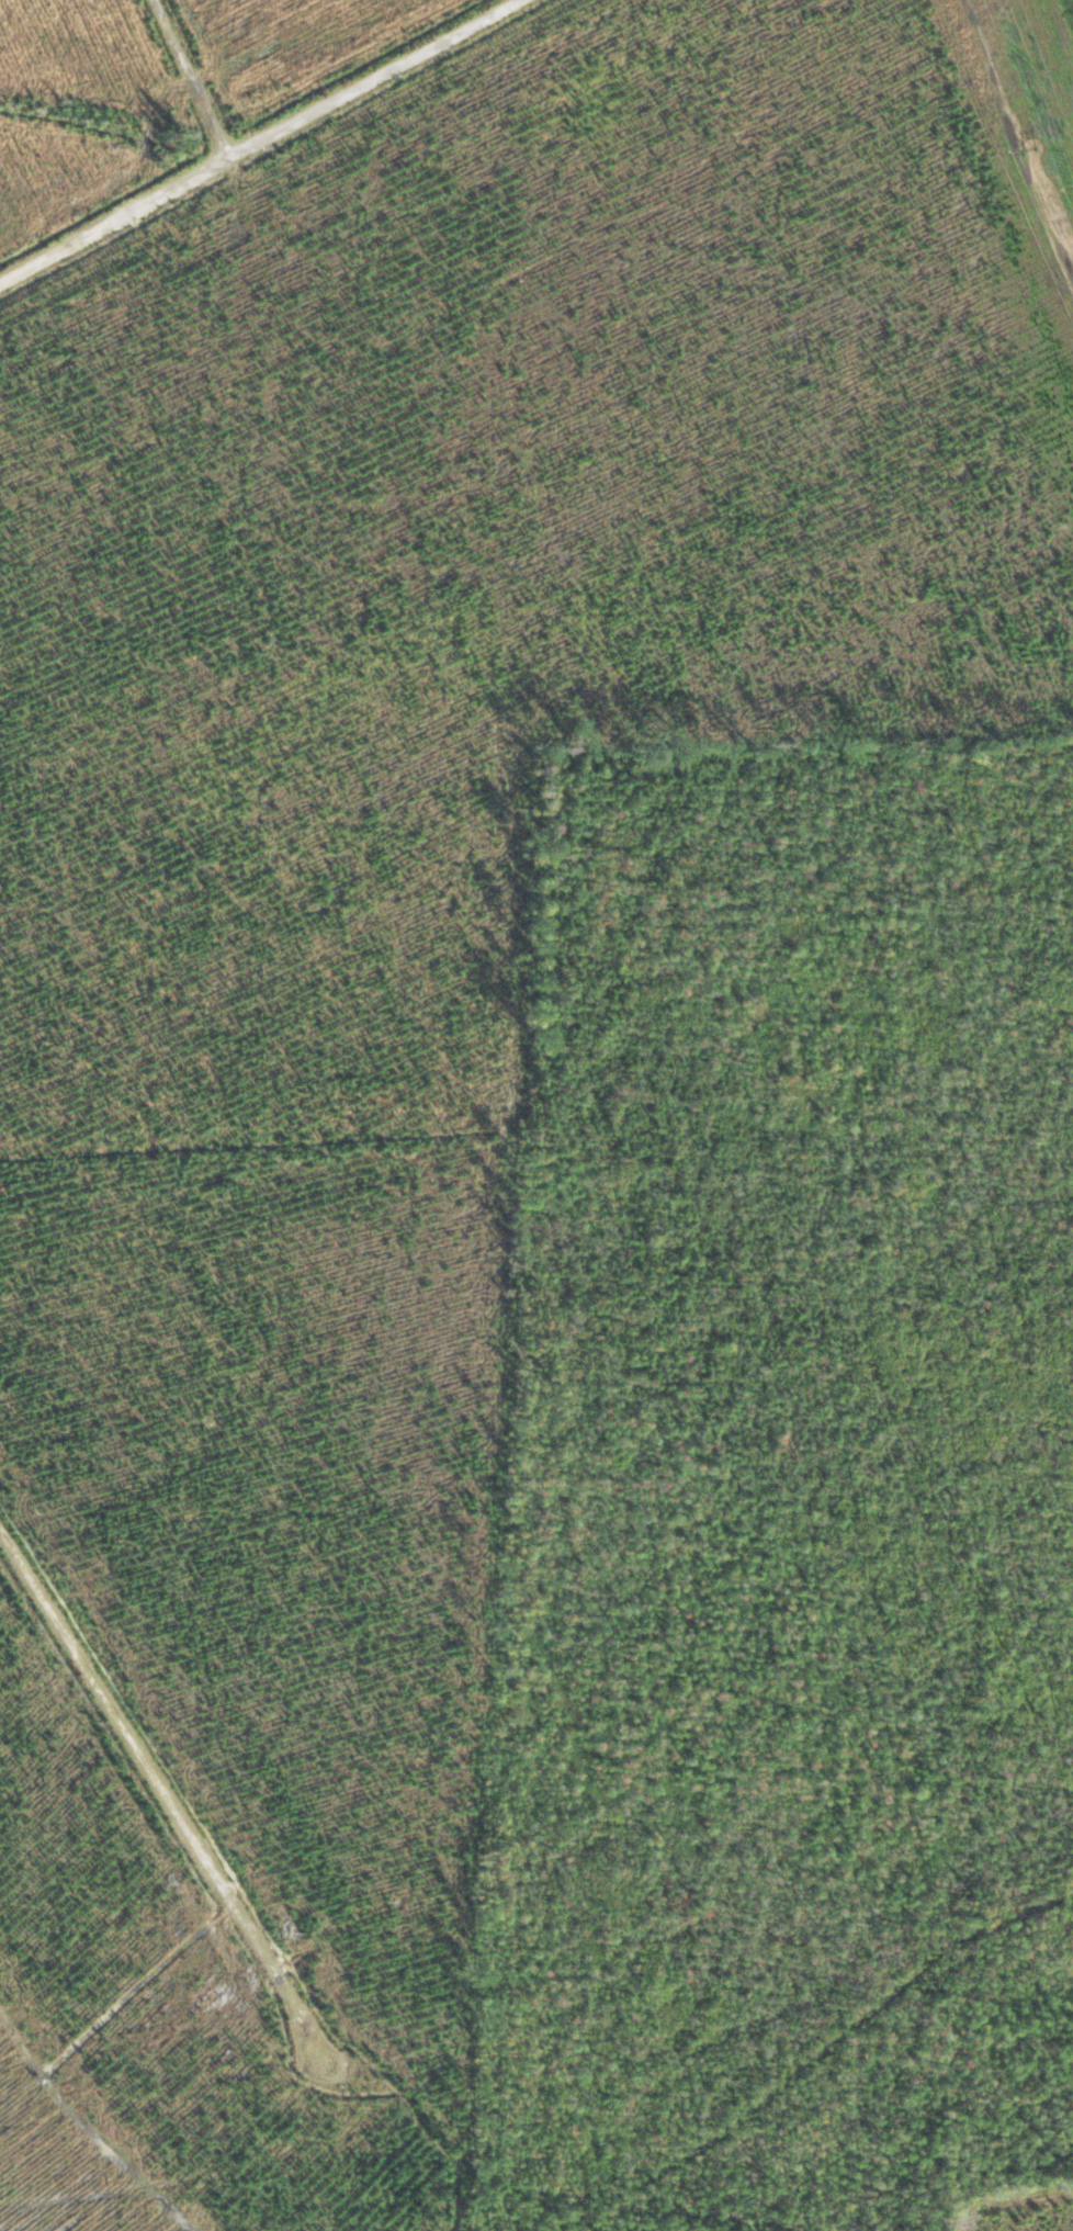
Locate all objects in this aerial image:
road: (372, 79)
power tower: (1025, 147)
road: (187, 187)
road: (122, 1694)

